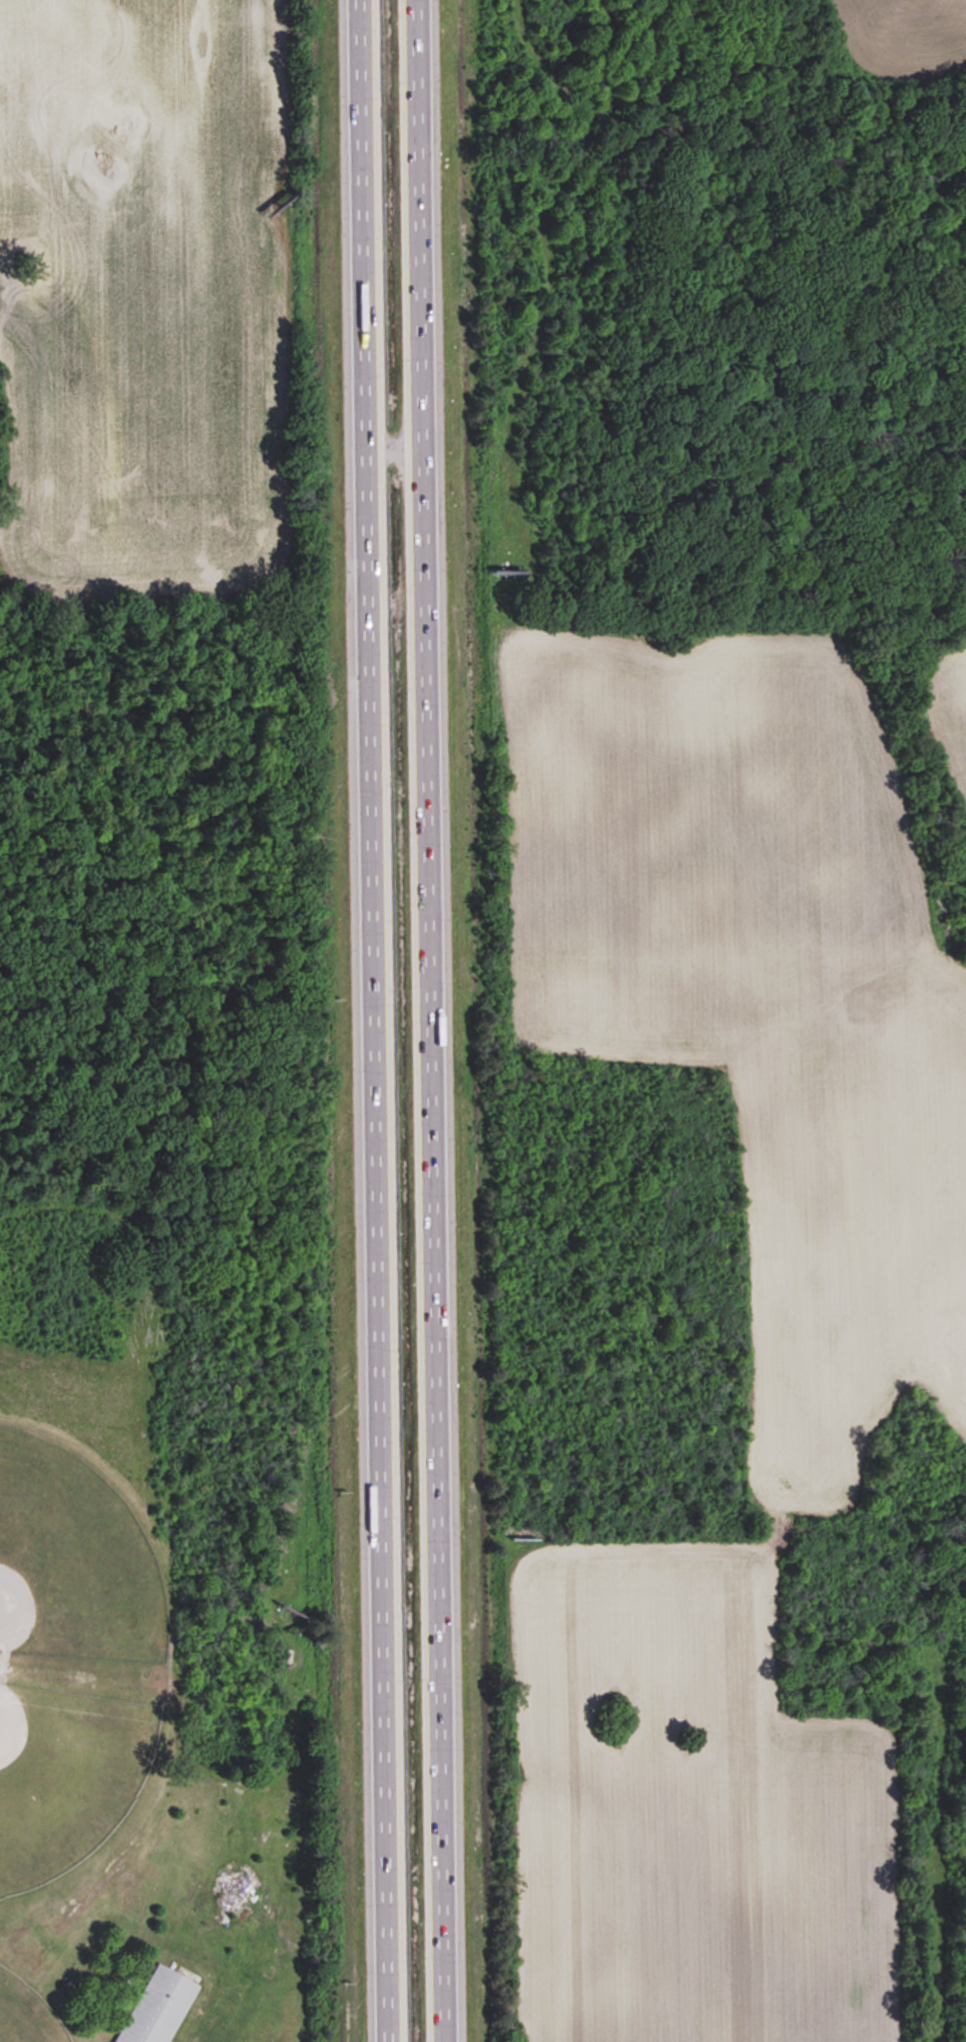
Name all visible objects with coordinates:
road: (393, 443)
road: (372, 1021)
road: (429, 1021)
building: (158, 2007)

